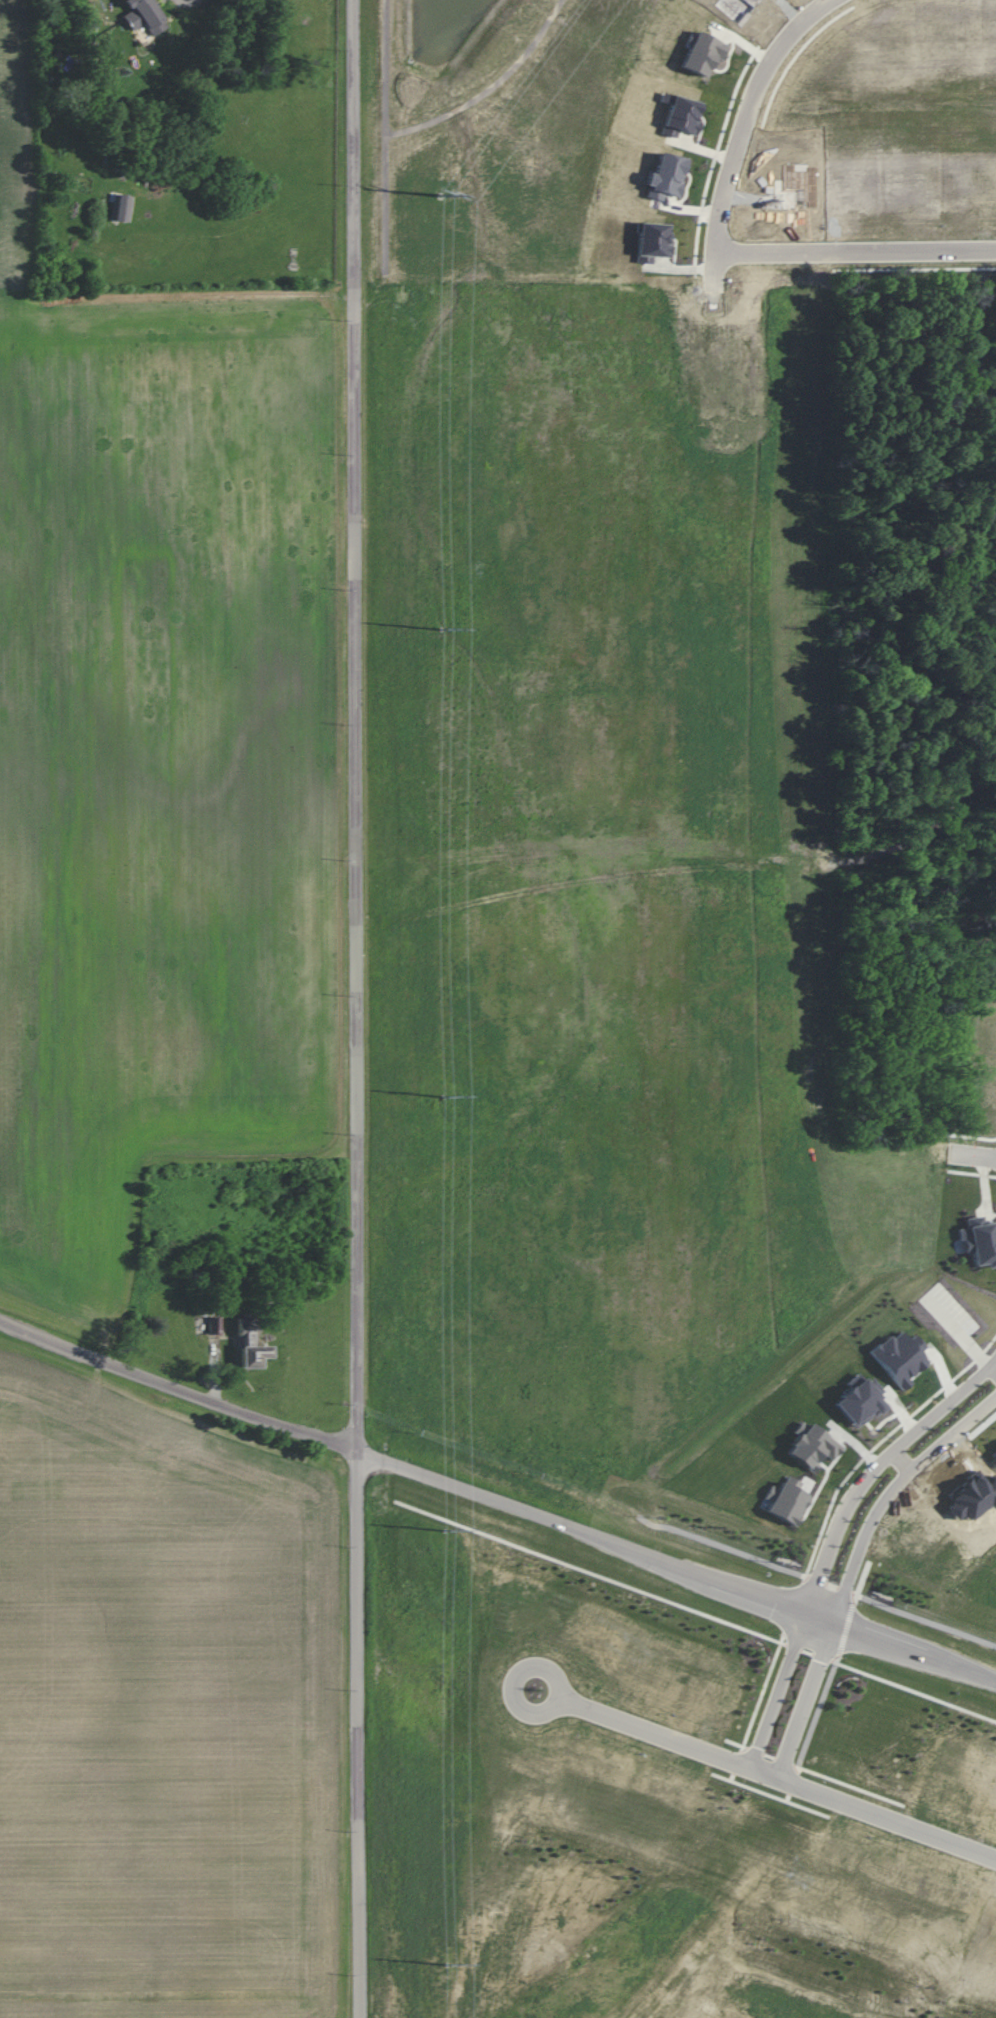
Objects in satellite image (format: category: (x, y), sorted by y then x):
road: (192, 0)
building: (143, 15)
power tower: (442, 195)
building: (120, 207)
road: (857, 253)
road: (544, 405)
power tower: (441, 628)
road: (745, 639)
road: (360, 1008)
road: (390, 1009)
road: (558, 1016)
power tower: (444, 1095)
road: (739, 1217)
building: (979, 1240)
road: (600, 1307)
building: (214, 1324)
building: (249, 1344)
building: (898, 1357)
road: (994, 1369)
road: (180, 1384)
building: (858, 1400)
road: (903, 1464)
road: (875, 1473)
road: (889, 1496)
power tower: (446, 1529)
road: (694, 1538)
road: (677, 1570)
road: (694, 1611)
road: (779, 1693)
road: (561, 1697)
road: (805, 1702)
road: (662, 1735)
road: (879, 1813)
power tower: (448, 1964)

